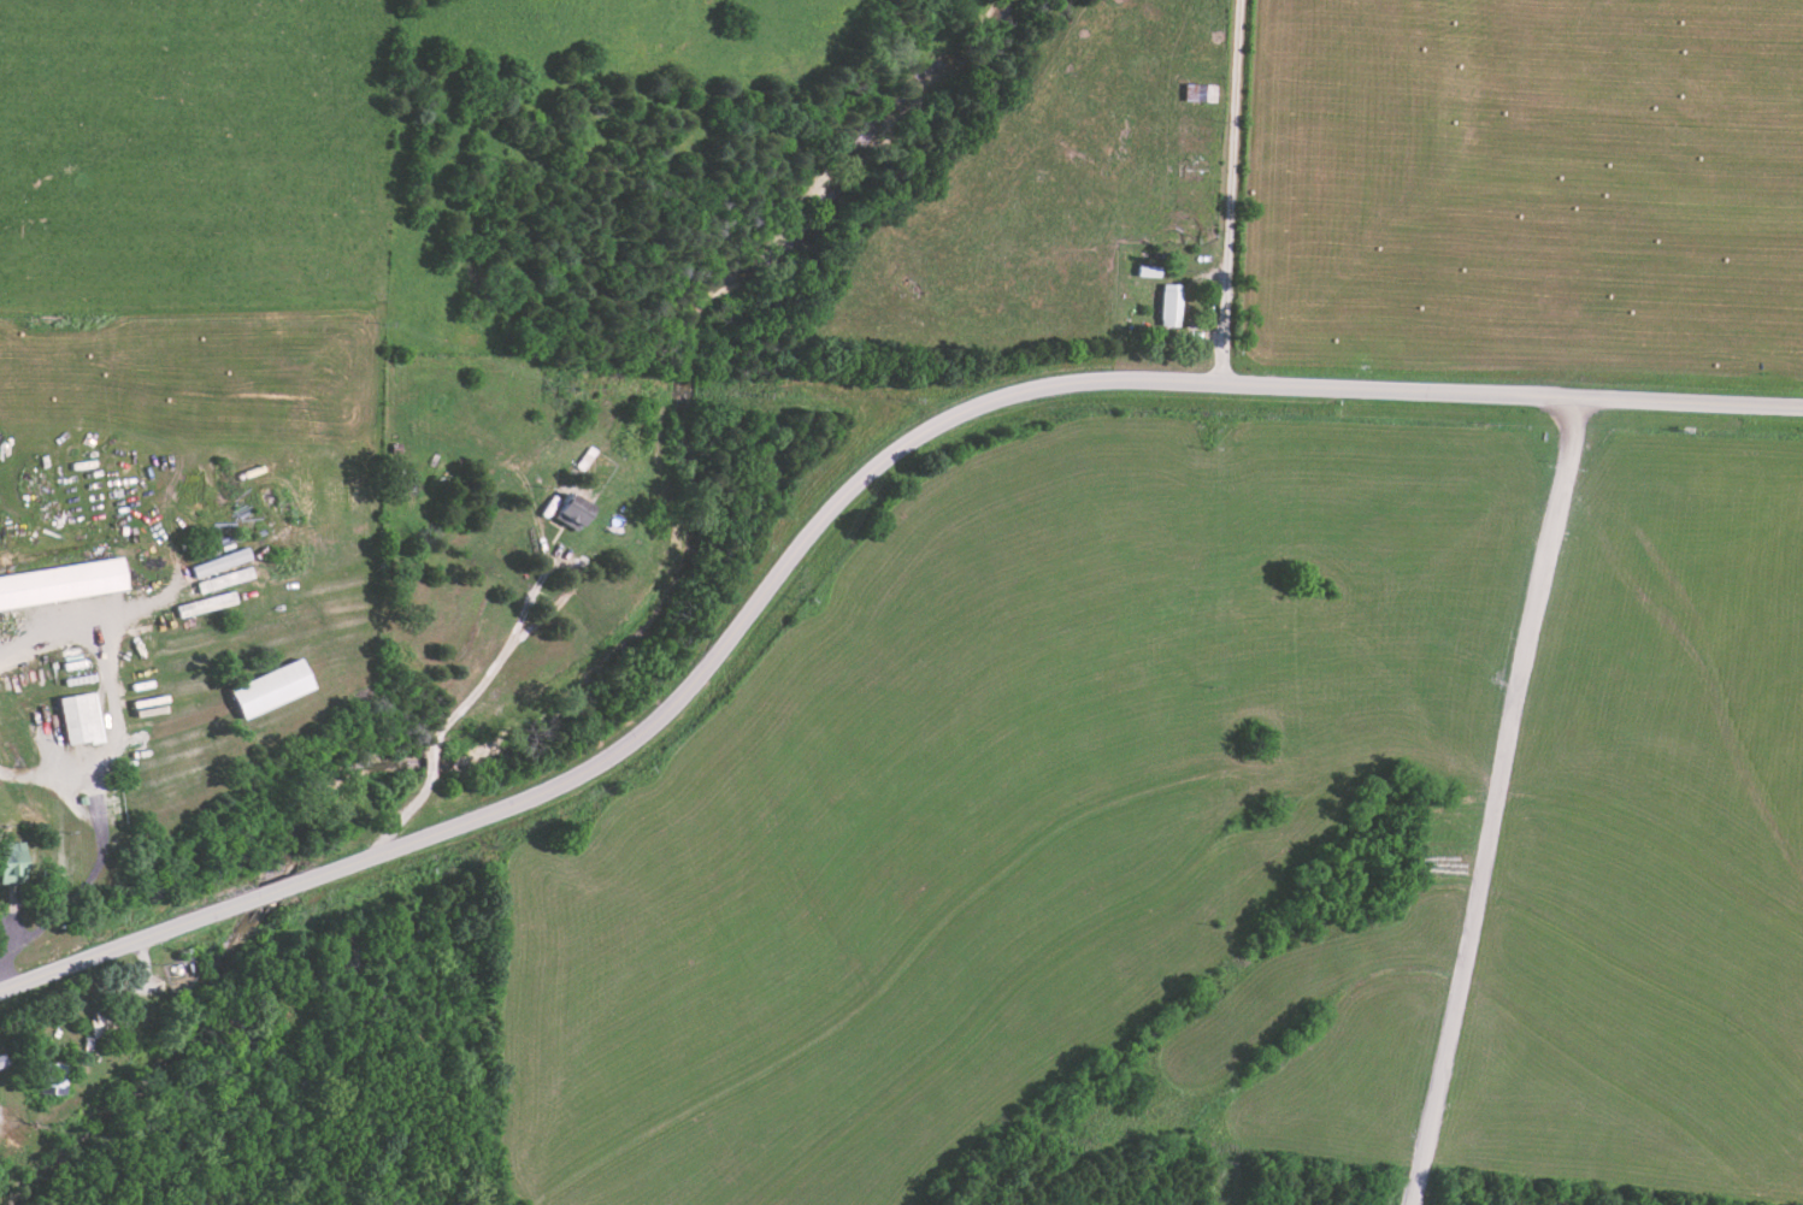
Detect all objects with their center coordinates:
road: (160, 144)
road: (1235, 190)
building: (1166, 305)
road: (838, 503)
building: (562, 509)
building: (64, 584)
road: (76, 630)
road: (501, 661)
building: (261, 690)
building: (83, 719)
road: (51, 776)
road: (1496, 797)
road: (96, 813)
building: (16, 864)
road: (1, 984)
building: (4, 1059)
building: (53, 1083)

